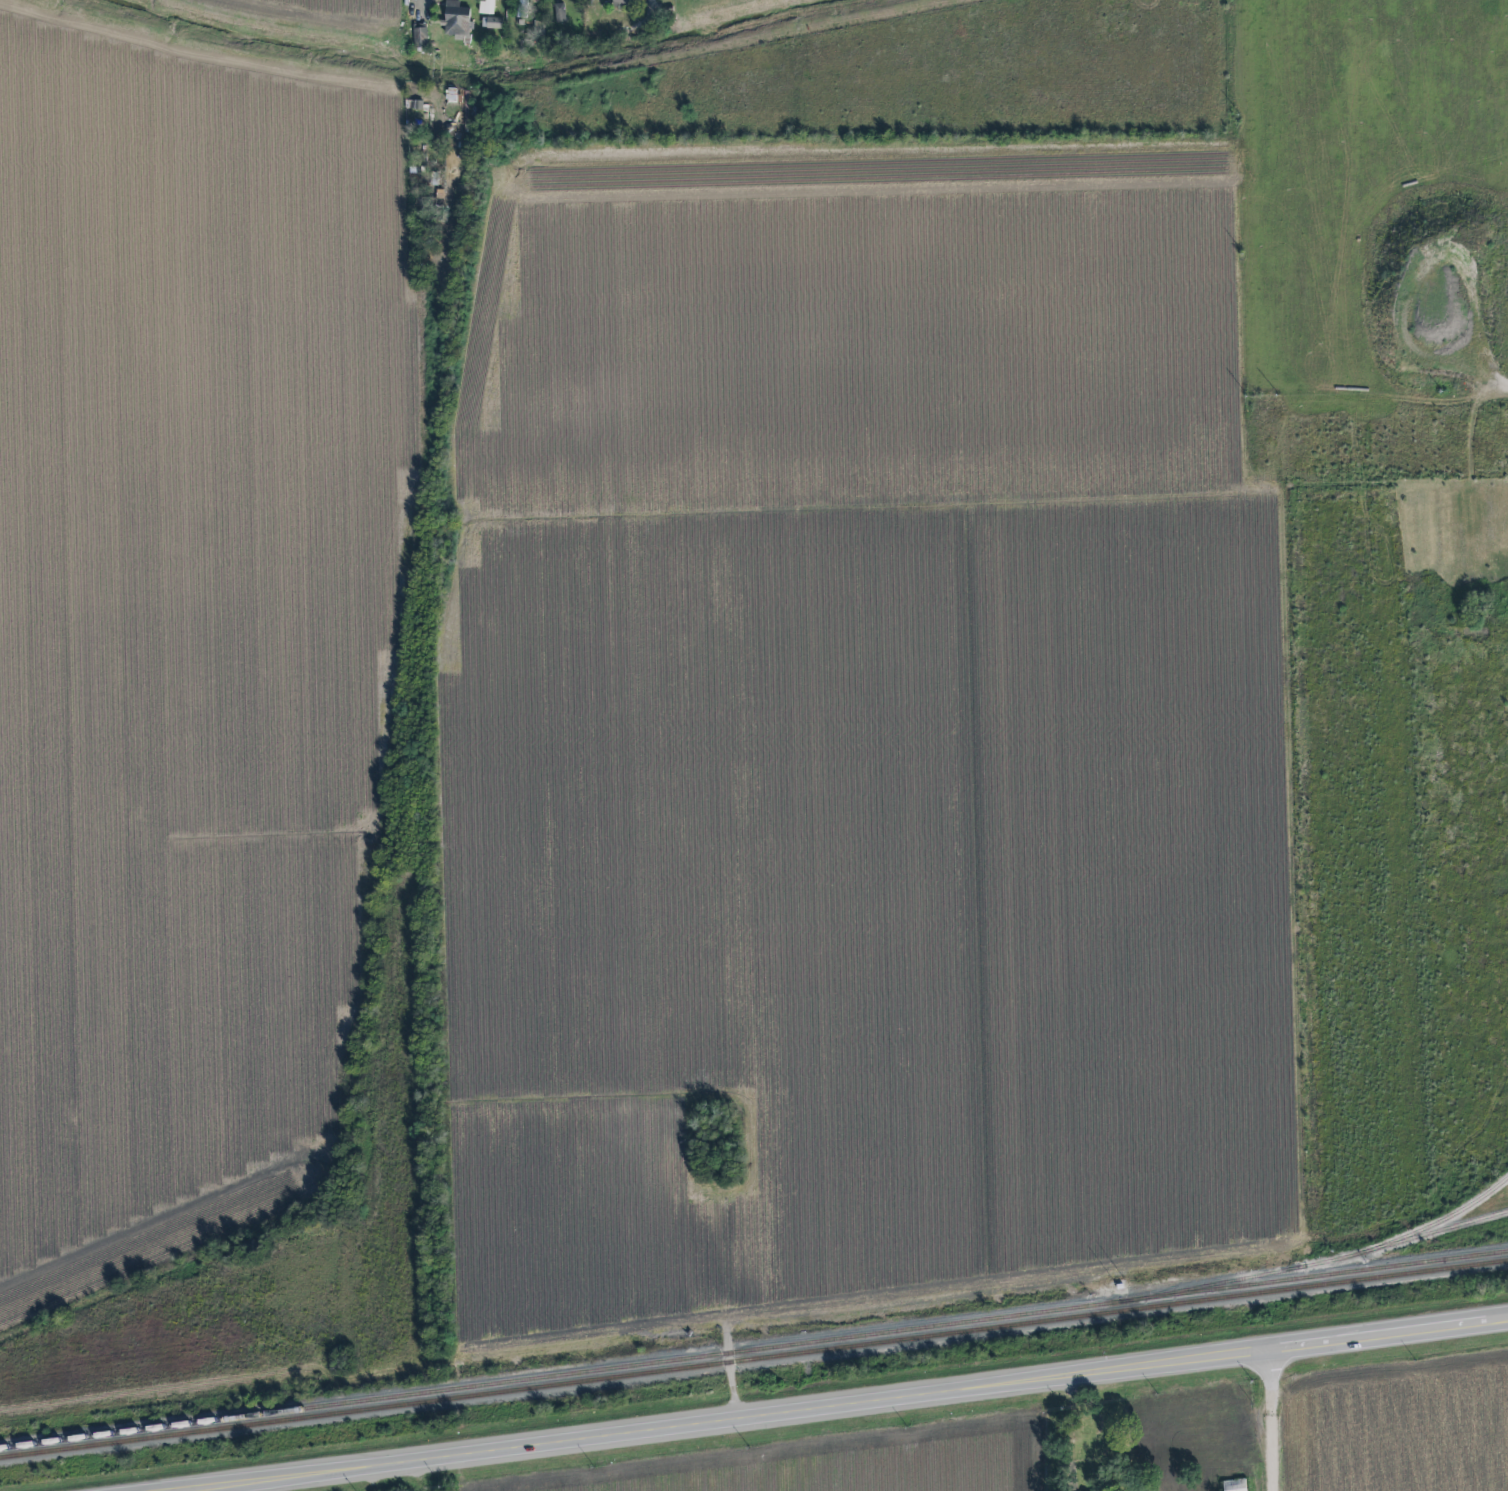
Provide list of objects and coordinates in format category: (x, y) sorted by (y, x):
road: (418, 2)
building: (620, 2)
building: (522, 3)
building: (456, 19)
building: (420, 33)
railway: (1440, 1221)
road: (717, 1258)
railway: (1314, 1265)
railway: (753, 1349)
railway: (754, 1360)
road: (848, 1405)
road: (1277, 1421)
building: (1234, 1485)

